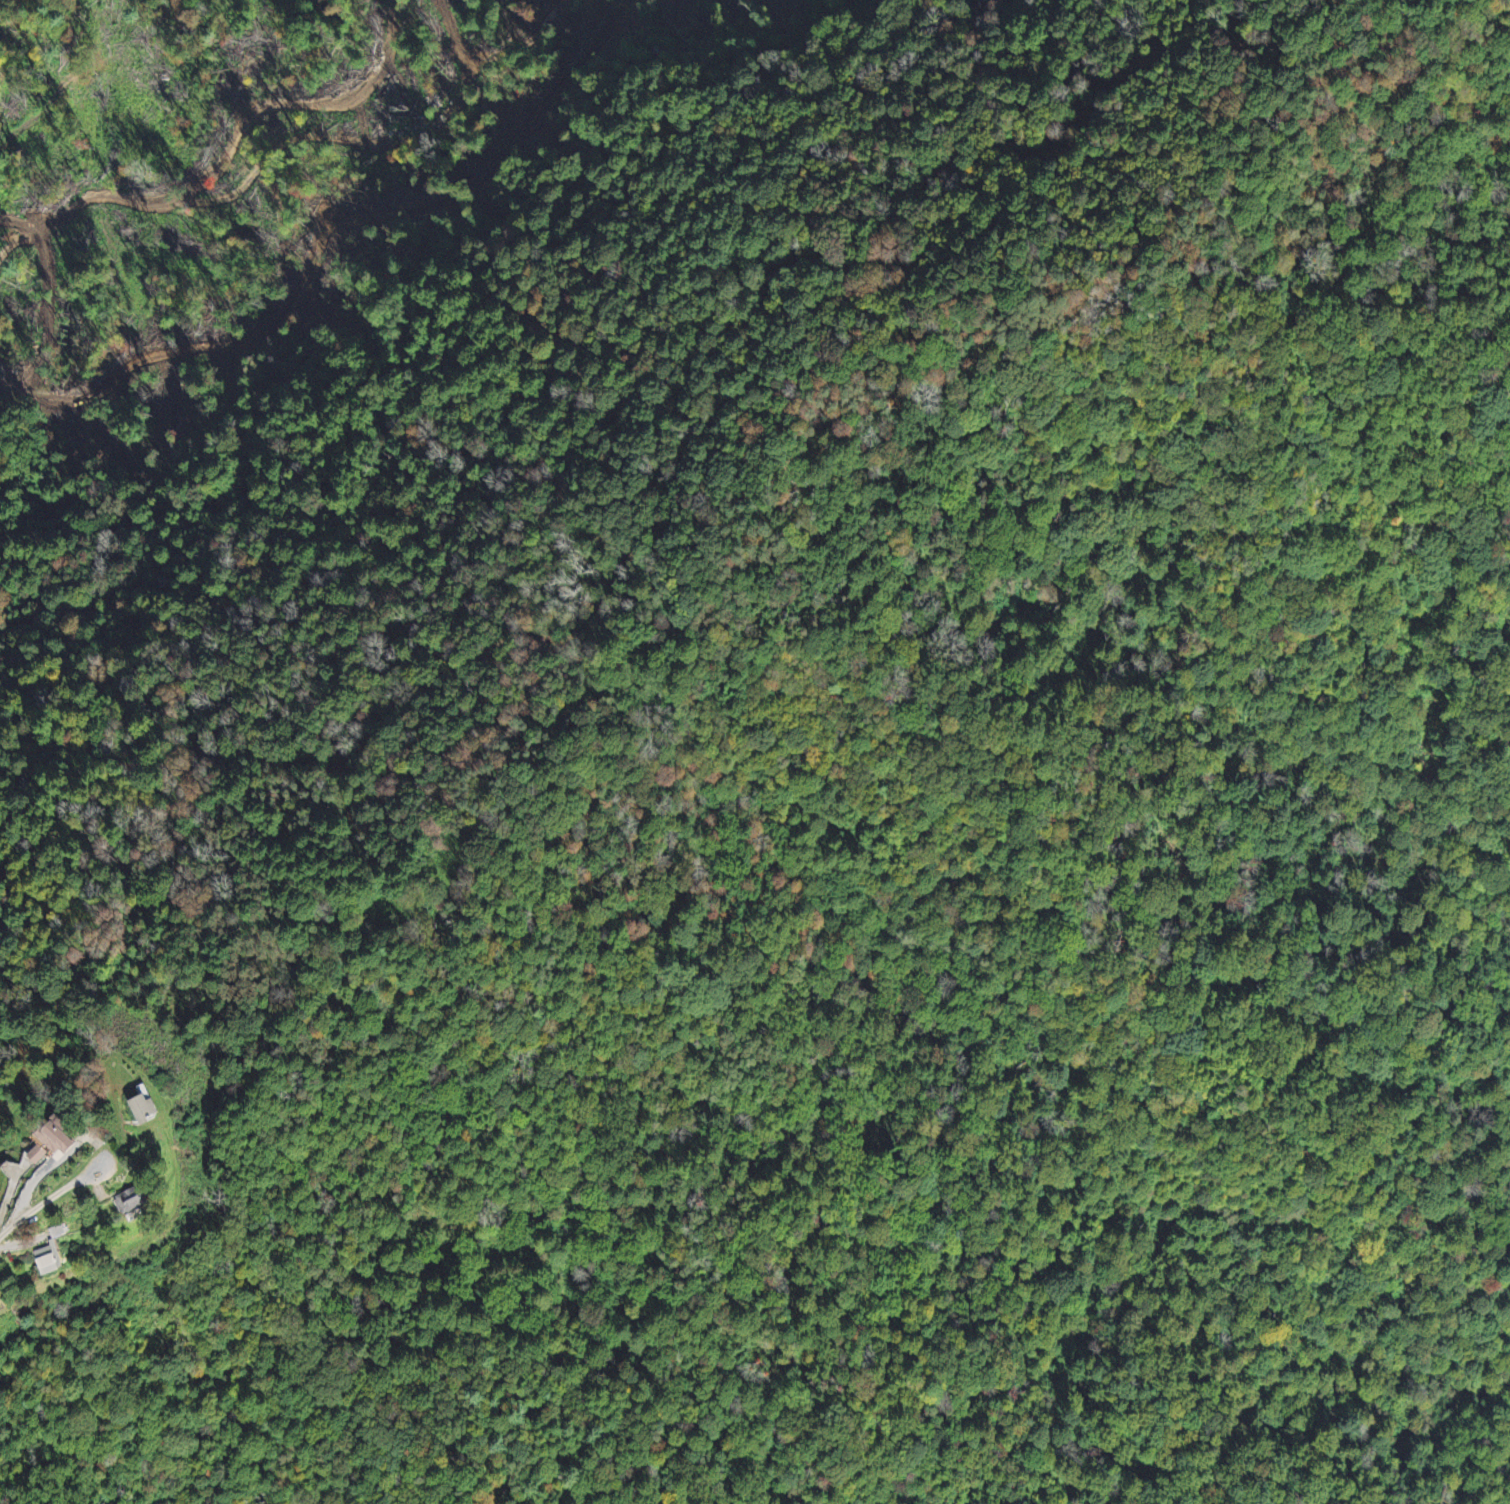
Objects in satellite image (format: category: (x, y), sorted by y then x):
building: (166, 1105)
building: (86, 1112)
building: (76, 1135)
building: (54, 1152)
building: (154, 1197)
road: (47, 1199)
building: (65, 1257)
building: (9, 1301)

